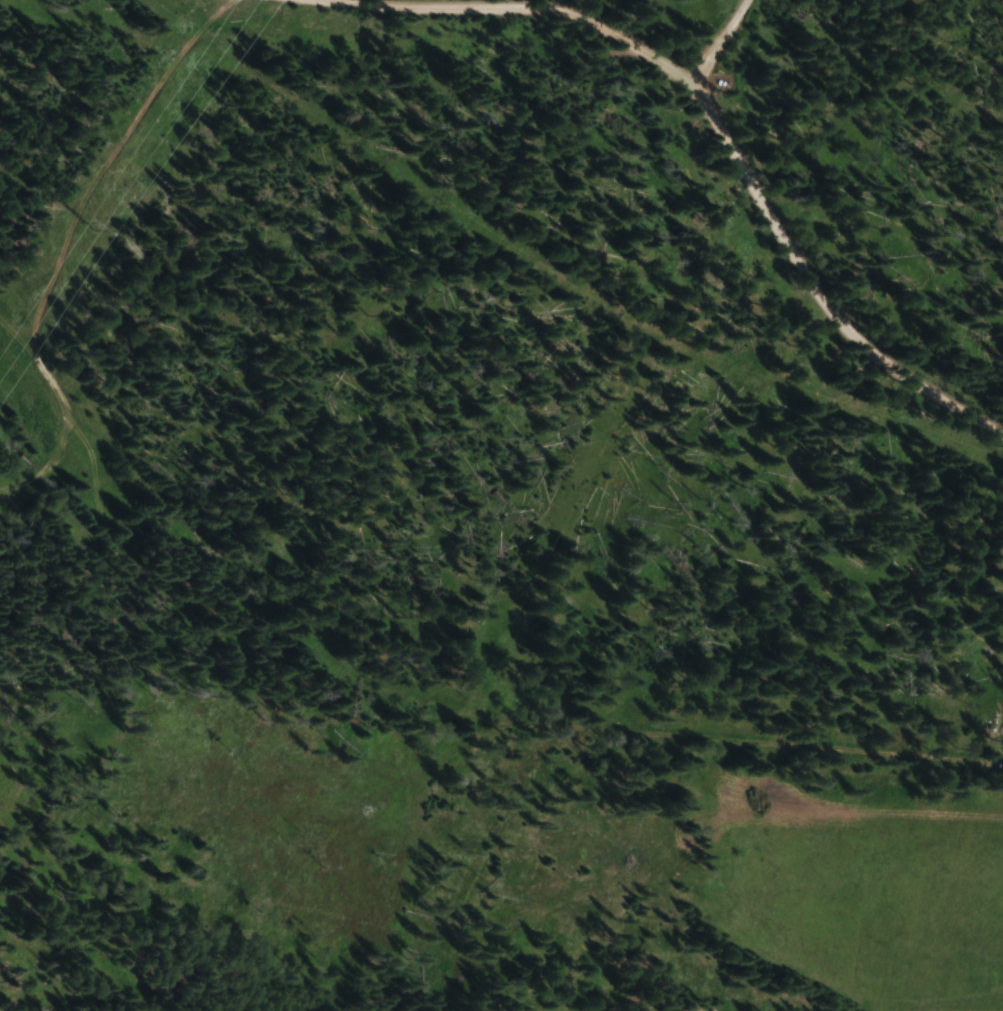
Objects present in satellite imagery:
road: (723, 129)
power tower: (85, 225)

